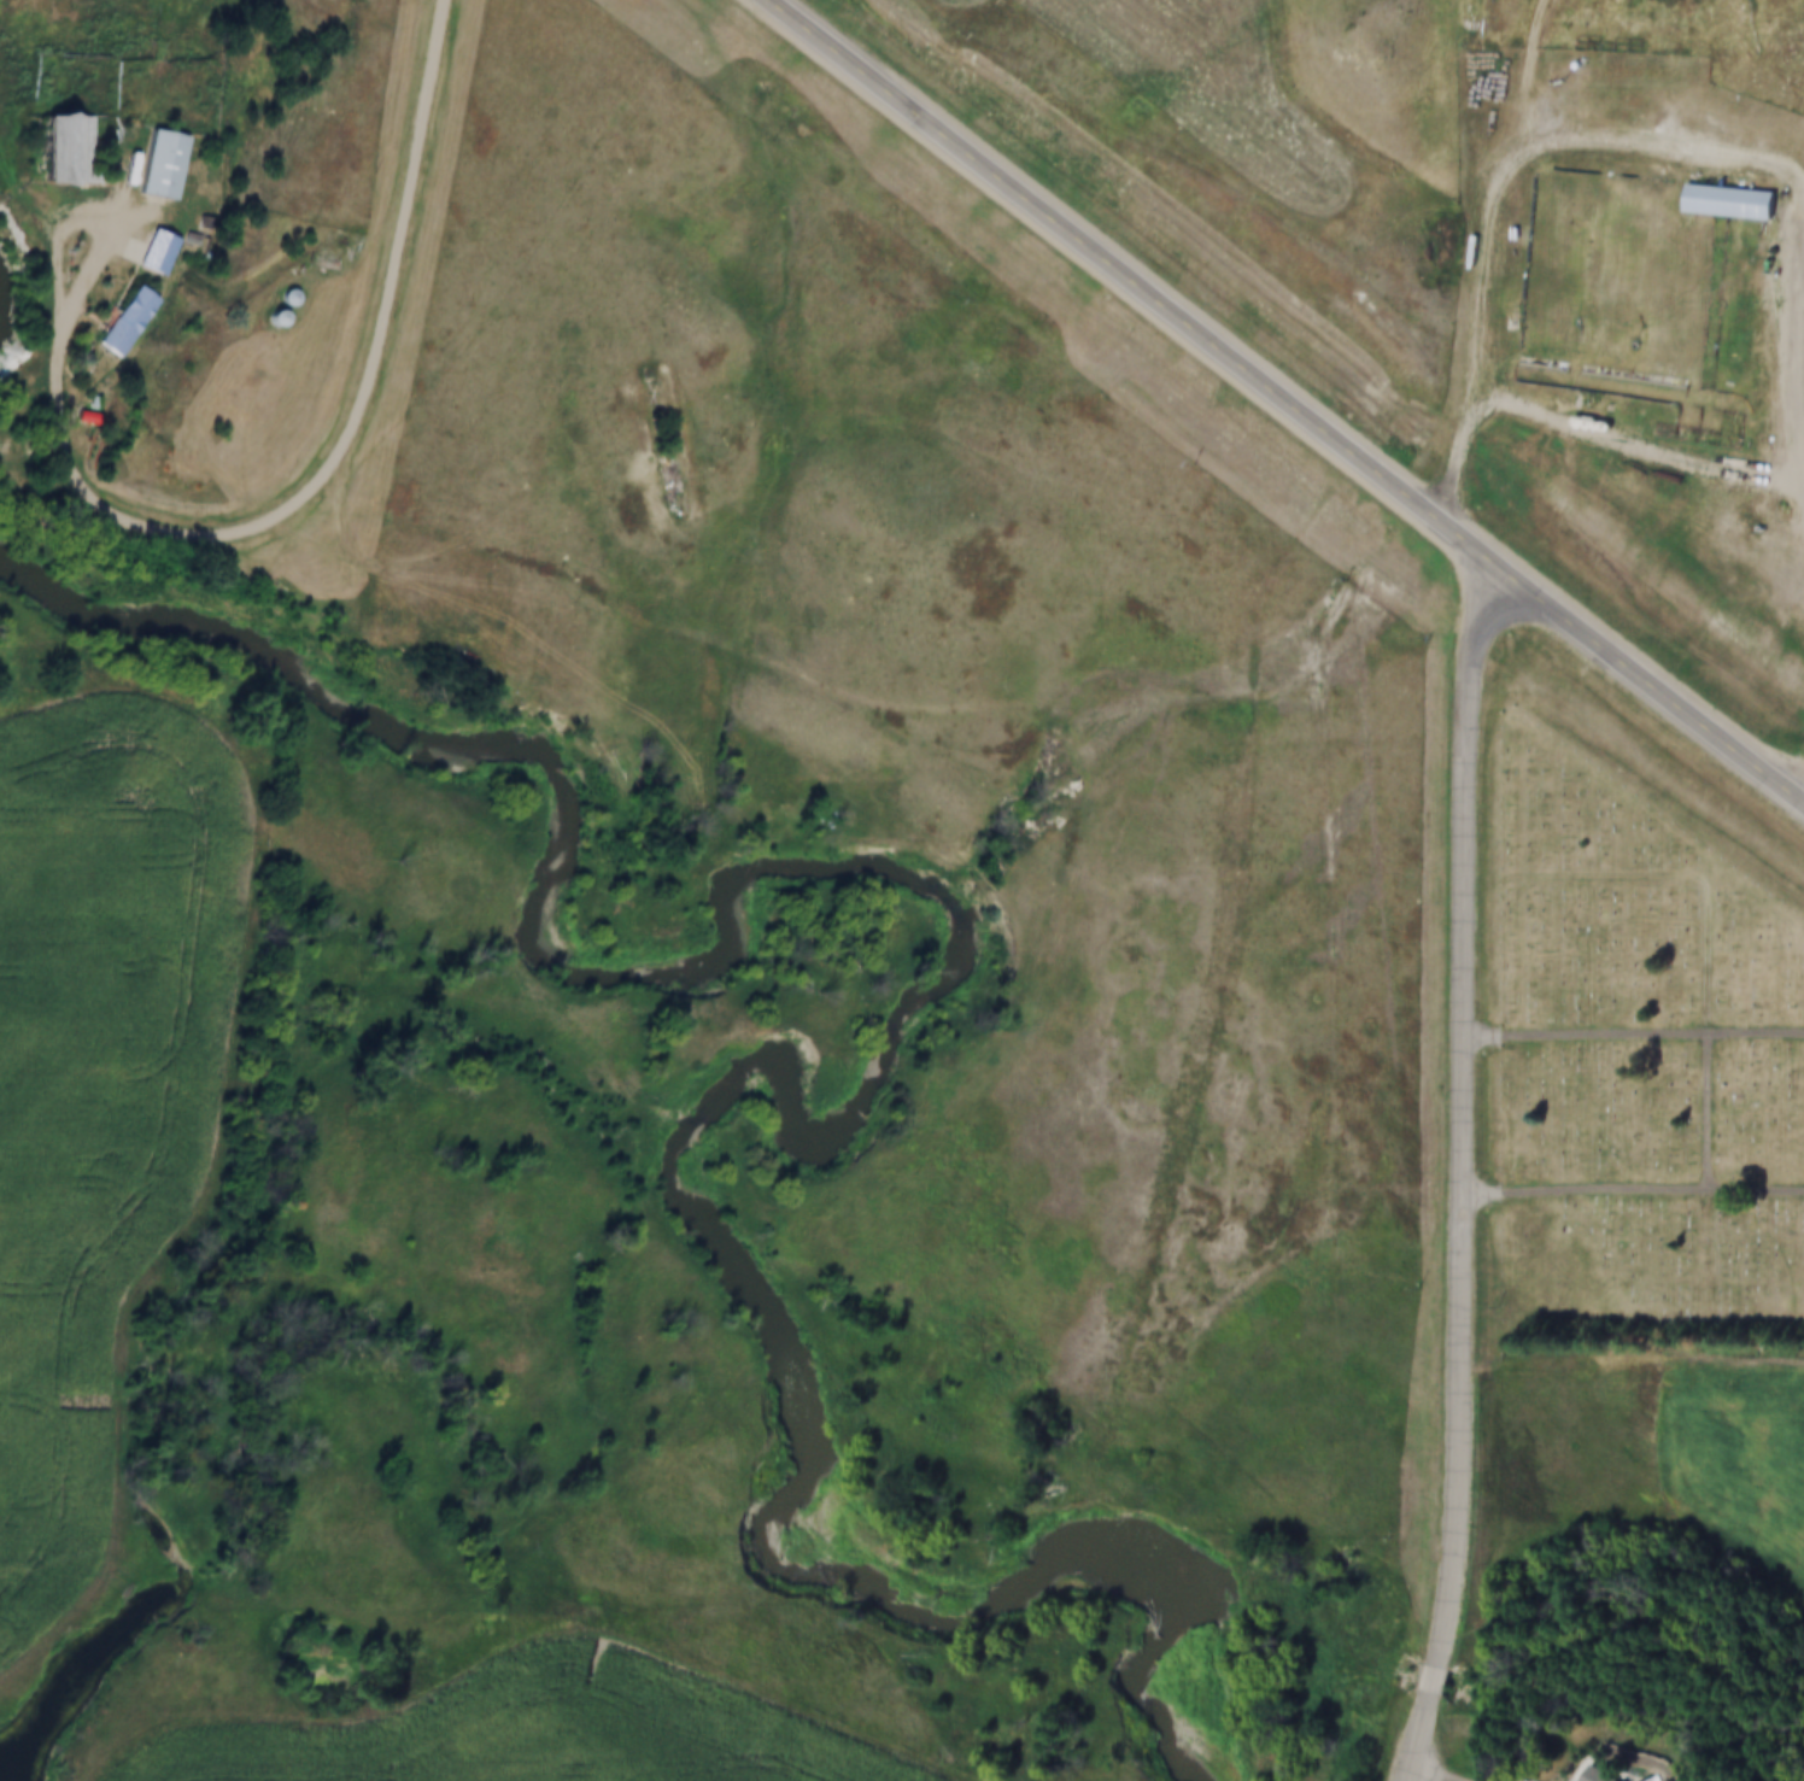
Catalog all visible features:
building: (1563, 60)
silo: (1563, 60)
building: (53, 146)
building: (158, 162)
road: (1503, 192)
building: (1716, 203)
road: (104, 218)
building: (154, 250)
building: (287, 293)
building: (279, 298)
silo: (279, 298)
building: (122, 320)
building: (263, 321)
silo: (263, 321)
river: (6, 323)
building: (1501, 326)
silo: (1501, 326)
road: (1288, 394)
building: (76, 416)
road: (1638, 447)
road: (345, 456)
road: (885, 707)
building: (1158, 812)
road: (1635, 1033)
river: (916, 1036)
park: (1640, 1074)
road: (1712, 1112)
road: (1466, 1113)
road: (1634, 1190)
road: (476, 1265)
road: (340, 1459)
road: (748, 1679)
road: (1443, 1681)
road: (1429, 1739)
road: (1437, 1769)
building: (1583, 1775)
road: (1453, 1779)
road: (1458, 1779)
building: (1621, 1780)

